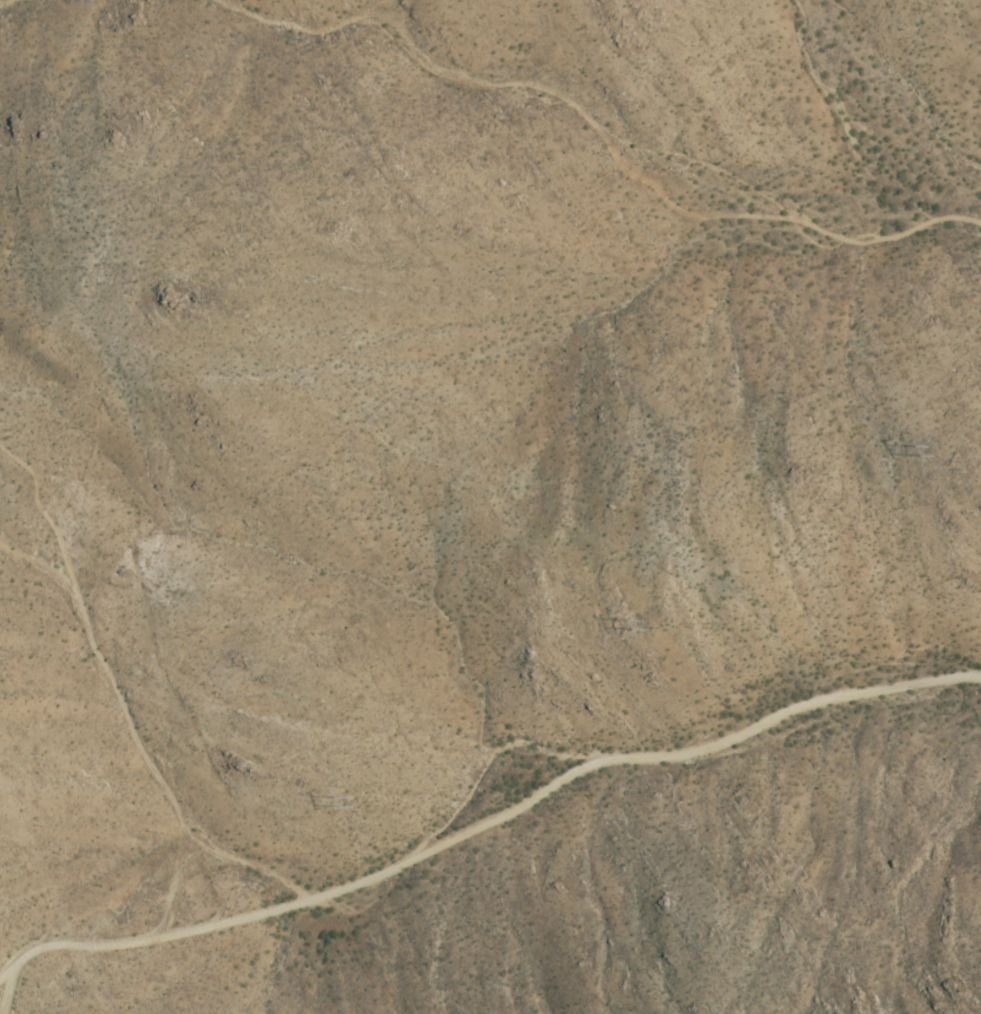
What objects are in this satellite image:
power tower: (936, 453)
power tower: (654, 624)
power tower: (364, 802)
road: (487, 831)

